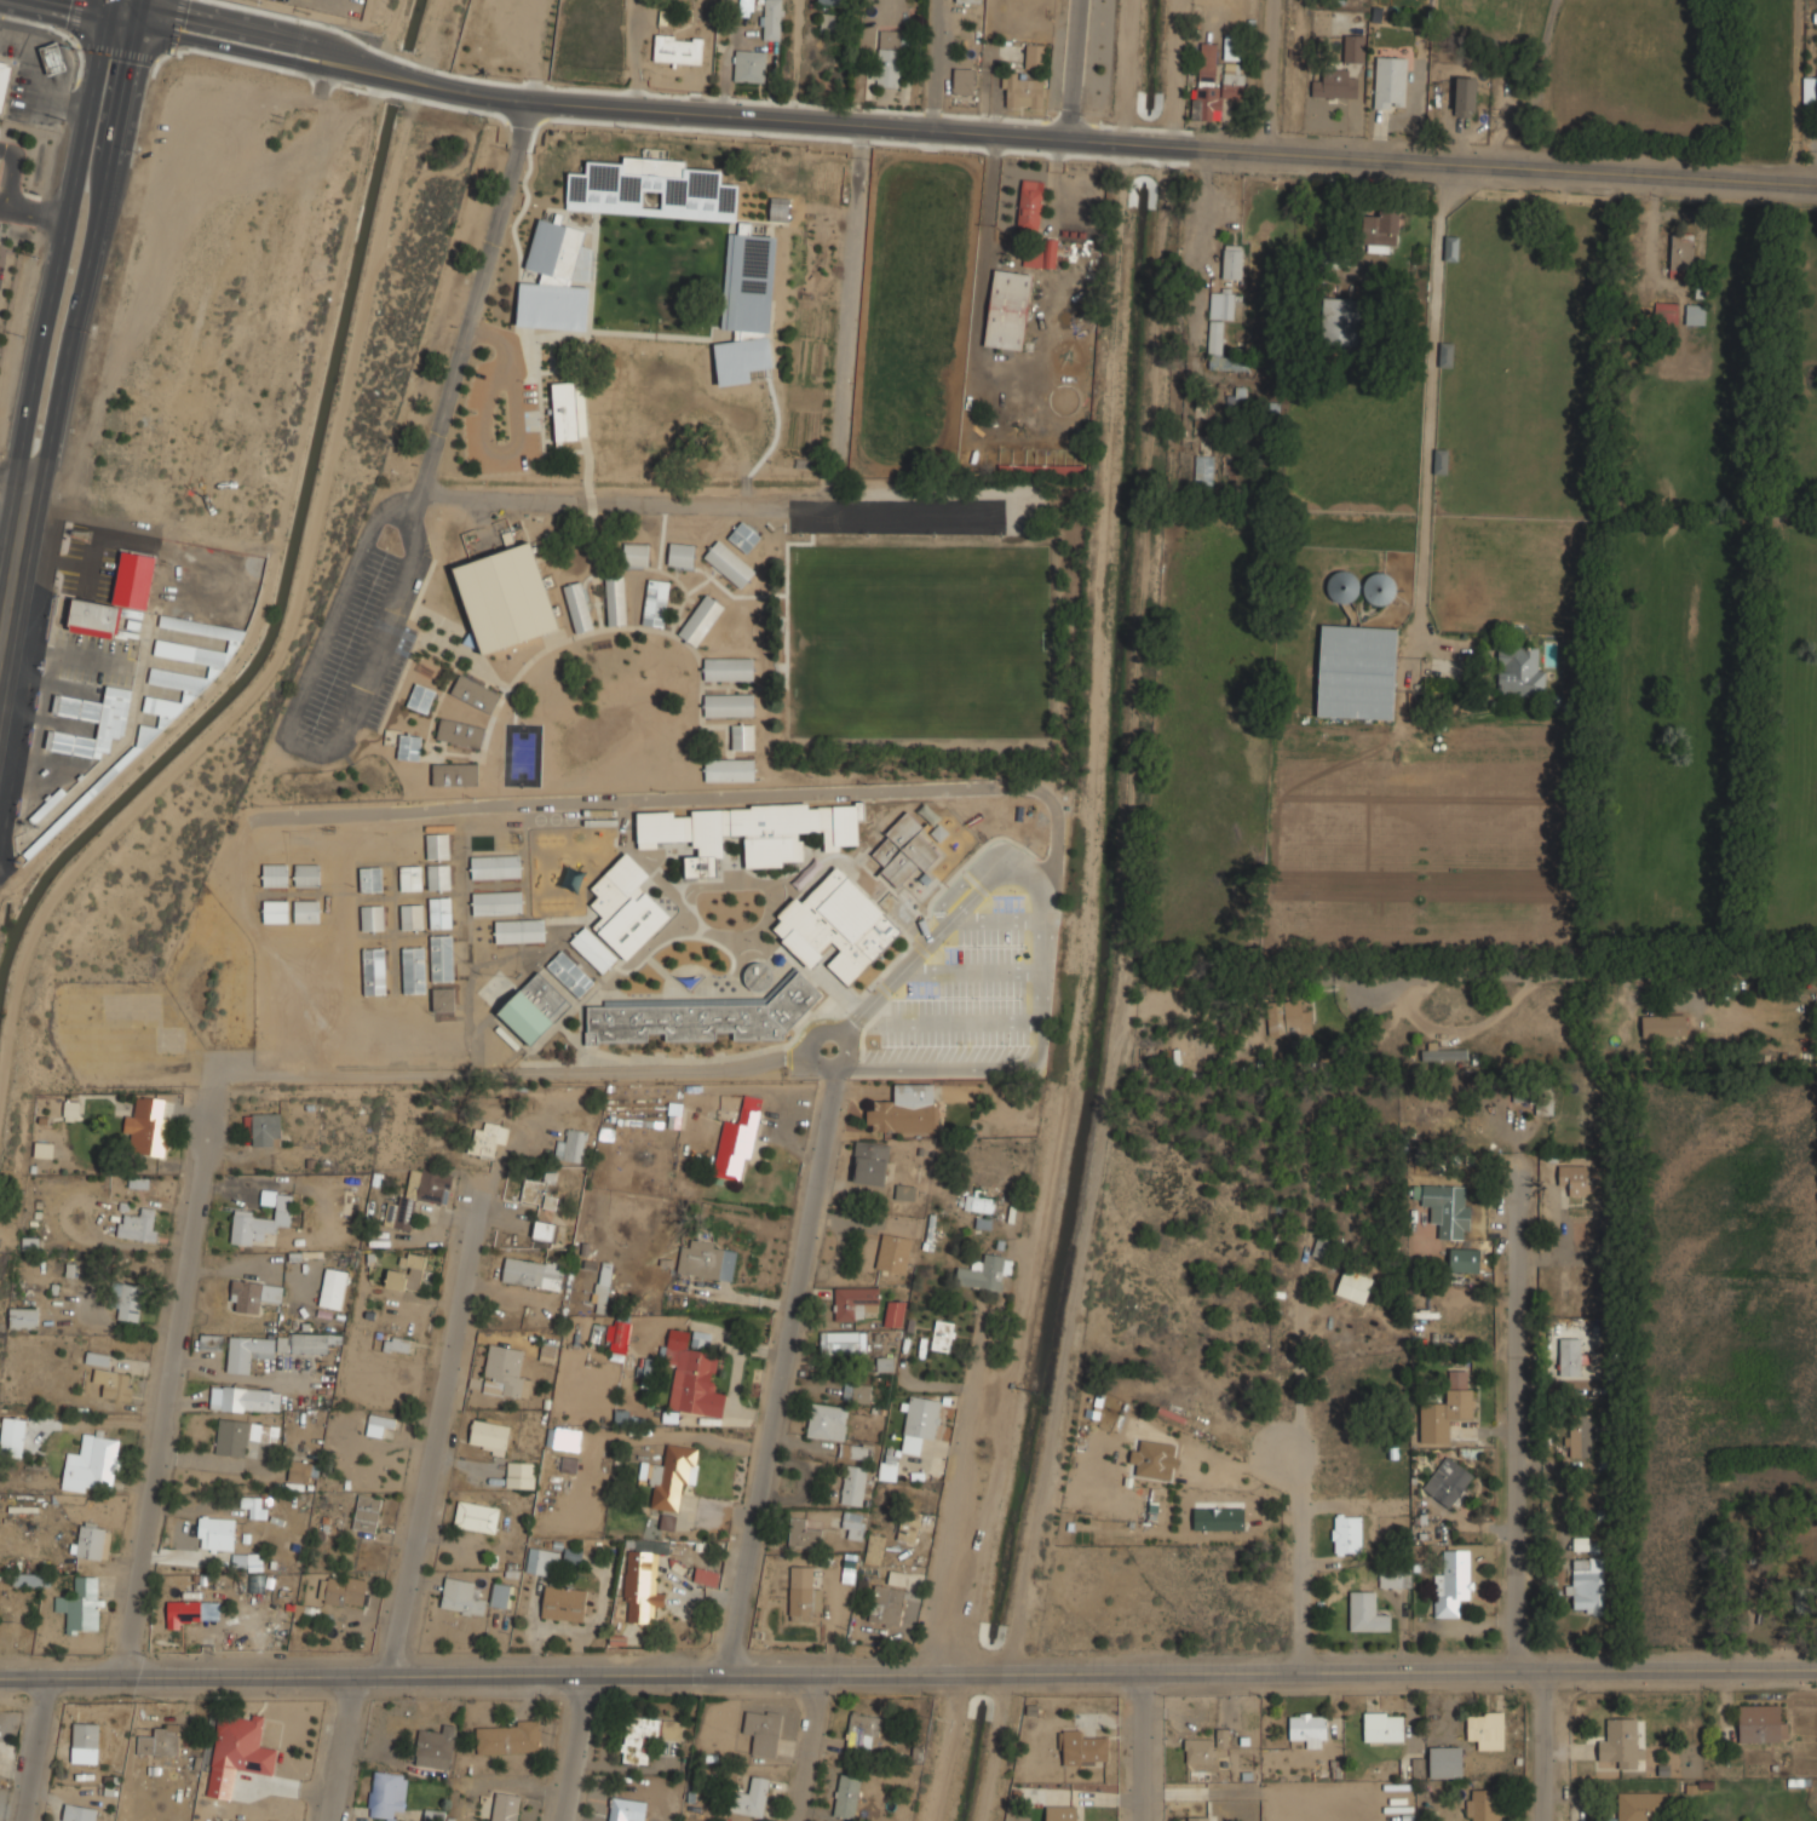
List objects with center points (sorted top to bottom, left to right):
building: (830, 1)
building: (968, 1)
road: (65, 12)
road: (117, 12)
building: (772, 19)
traffic signals: (115, 24)
building: (501, 24)
building: (830, 24)
building: (1231, 46)
building: (678, 48)
building: (1355, 48)
building: (1035, 56)
building: (53, 58)
building: (890, 58)
road: (794, 59)
road: (935, 63)
building: (749, 65)
road: (1075, 68)
road: (1271, 74)
building: (964, 80)
building: (1215, 81)
building: (4, 82)
building: (1391, 82)
building: (1335, 84)
building: (1810, 91)
building: (1020, 92)
building: (1465, 96)
road: (961, 127)
road: (6, 178)
building: (651, 190)
building: (1029, 205)
road: (39, 208)
building: (778, 209)
building: (1380, 228)
building: (1450, 248)
building: (1041, 255)
building: (1680, 257)
building: (1328, 258)
building: (1231, 262)
building: (556, 280)
building: (748, 283)
building: (1221, 304)
building: (1007, 310)
building: (1664, 312)
road: (852, 315)
building: (1694, 315)
building: (1339, 321)
road: (52, 334)
building: (1217, 345)
building: (1445, 355)
building: (741, 360)
building: (569, 410)
road: (1432, 414)
building: (1042, 470)
building: (1203, 470)
road: (12, 481)
road: (617, 500)
building: (744, 538)
building: (637, 555)
building: (682, 555)
building: (730, 564)
road: (404, 588)
building: (507, 598)
building: (616, 601)
building: (656, 603)
building: (579, 608)
building: (701, 620)
park: (918, 642)
parking lot: (349, 644)
building: (729, 668)
building: (1356, 672)
building: (1519, 672)
parking lot: (391, 677)
building: (475, 694)
building: (421, 699)
building: (104, 703)
building: (729, 706)
building: (461, 733)
building: (742, 736)
building: (410, 748)
park: (523, 756)
building: (729, 770)
building: (455, 774)
road: (692, 797)
building: (754, 832)
building: (317, 844)
building: (437, 846)
building: (905, 849)
building: (496, 867)
building: (275, 875)
building: (306, 875)
building: (410, 878)
building: (438, 878)
building: (370, 879)
road: (965, 880)
building: (498, 902)
building: (626, 907)
building: (306, 910)
building: (276, 912)
building: (441, 913)
building: (412, 917)
building: (372, 918)
road: (1014, 920)
building: (835, 924)
building: (521, 931)
road: (928, 944)
building: (593, 949)
building: (442, 959)
building: (414, 970)
building: (373, 971)
road: (984, 972)
building: (570, 975)
building: (758, 977)
road: (1589, 977)
parking lot: (968, 993)
building: (443, 999)
building: (534, 1009)
building: (702, 1017)
building: (1287, 1017)
road: (968, 1022)
building: (1663, 1026)
road: (839, 1030)
road: (1040, 1053)
building: (1443, 1053)
road: (522, 1072)
building: (1542, 1104)
building: (71, 1108)
building: (905, 1109)
building: (146, 1126)
building: (265, 1130)
building: (487, 1139)
building: (737, 1139)
building: (570, 1147)
building: (42, 1150)
building: (870, 1162)
building: (1576, 1178)
building: (540, 1189)
building: (904, 1193)
building: (416, 1196)
building: (978, 1204)
building: (1447, 1210)
building: (260, 1219)
building: (138, 1225)
building: (542, 1230)
building: (892, 1253)
building: (1464, 1259)
building: (706, 1260)
building: (406, 1273)
building: (533, 1274)
building: (981, 1274)
building: (1353, 1286)
building: (603, 1287)
building: (332, 1288)
building: (253, 1296)
building: (127, 1302)
building: (853, 1303)
building: (893, 1314)
building: (23, 1319)
building: (942, 1335)
building: (700, 1338)
building: (619, 1340)
building: (211, 1342)
building: (301, 1343)
building: (841, 1343)
building: (247, 1352)
building: (1569, 1356)
building: (97, 1358)
road: (1301, 1368)
building: (502, 1371)
road: (172, 1372)
road: (782, 1373)
building: (691, 1377)
building: (114, 1384)
building: (856, 1392)
building: (245, 1398)
building: (1445, 1408)
building: (827, 1421)
building: (919, 1423)
building: (379, 1424)
building: (1579, 1435)
building: (489, 1436)
building: (12, 1437)
building: (231, 1437)
building: (563, 1438)
building: (91, 1464)
building: (886, 1471)
building: (299, 1472)
building: (519, 1475)
building: (669, 1476)
building: (1447, 1481)
building: (852, 1484)
road: (968, 1495)
building: (253, 1506)
road: (419, 1511)
road: (1516, 1511)
building: (366, 1513)
building: (476, 1517)
building: (1218, 1518)
building: (667, 1522)
building: (852, 1524)
building: (907, 1527)
building: (215, 1533)
building: (803, 1534)
building: (1346, 1534)
building: (90, 1543)
building: (1585, 1545)
building: (873, 1549)
building: (571, 1555)
road: (1301, 1558)
building: (541, 1562)
building: (706, 1576)
building: (1395, 1576)
building: (27, 1579)
building: (643, 1581)
building: (1450, 1584)
building: (1587, 1585)
building: (341, 1590)
building: (800, 1592)
building: (499, 1595)
building: (460, 1597)
building: (563, 1604)
building: (80, 1605)
building: (886, 1605)
building: (190, 1613)
building: (1365, 1613)
road: (908, 1676)
building: (1760, 1723)
building: (1384, 1727)
building: (1487, 1729)
building: (1310, 1730)
building: (761, 1731)
building: (863, 1734)
building: (646, 1735)
building: (1221, 1737)
building: (508, 1739)
building: (160, 1741)
building: (85, 1744)
building: (1621, 1746)
road: (1143, 1747)
building: (436, 1748)
road: (807, 1748)
road: (38, 1750)
road: (574, 1750)
building: (1083, 1750)
building: (1200, 1751)
building: (237, 1753)
building: (1445, 1763)
building: (1411, 1768)
building: (389, 1796)
building: (846, 1797)
building: (752, 1798)
building: (1483, 1804)
building: (1640, 1805)
building: (505, 1806)
building: (627, 1810)
building: (80, 1813)
building: (1060, 1813)
building: (1195, 1819)

